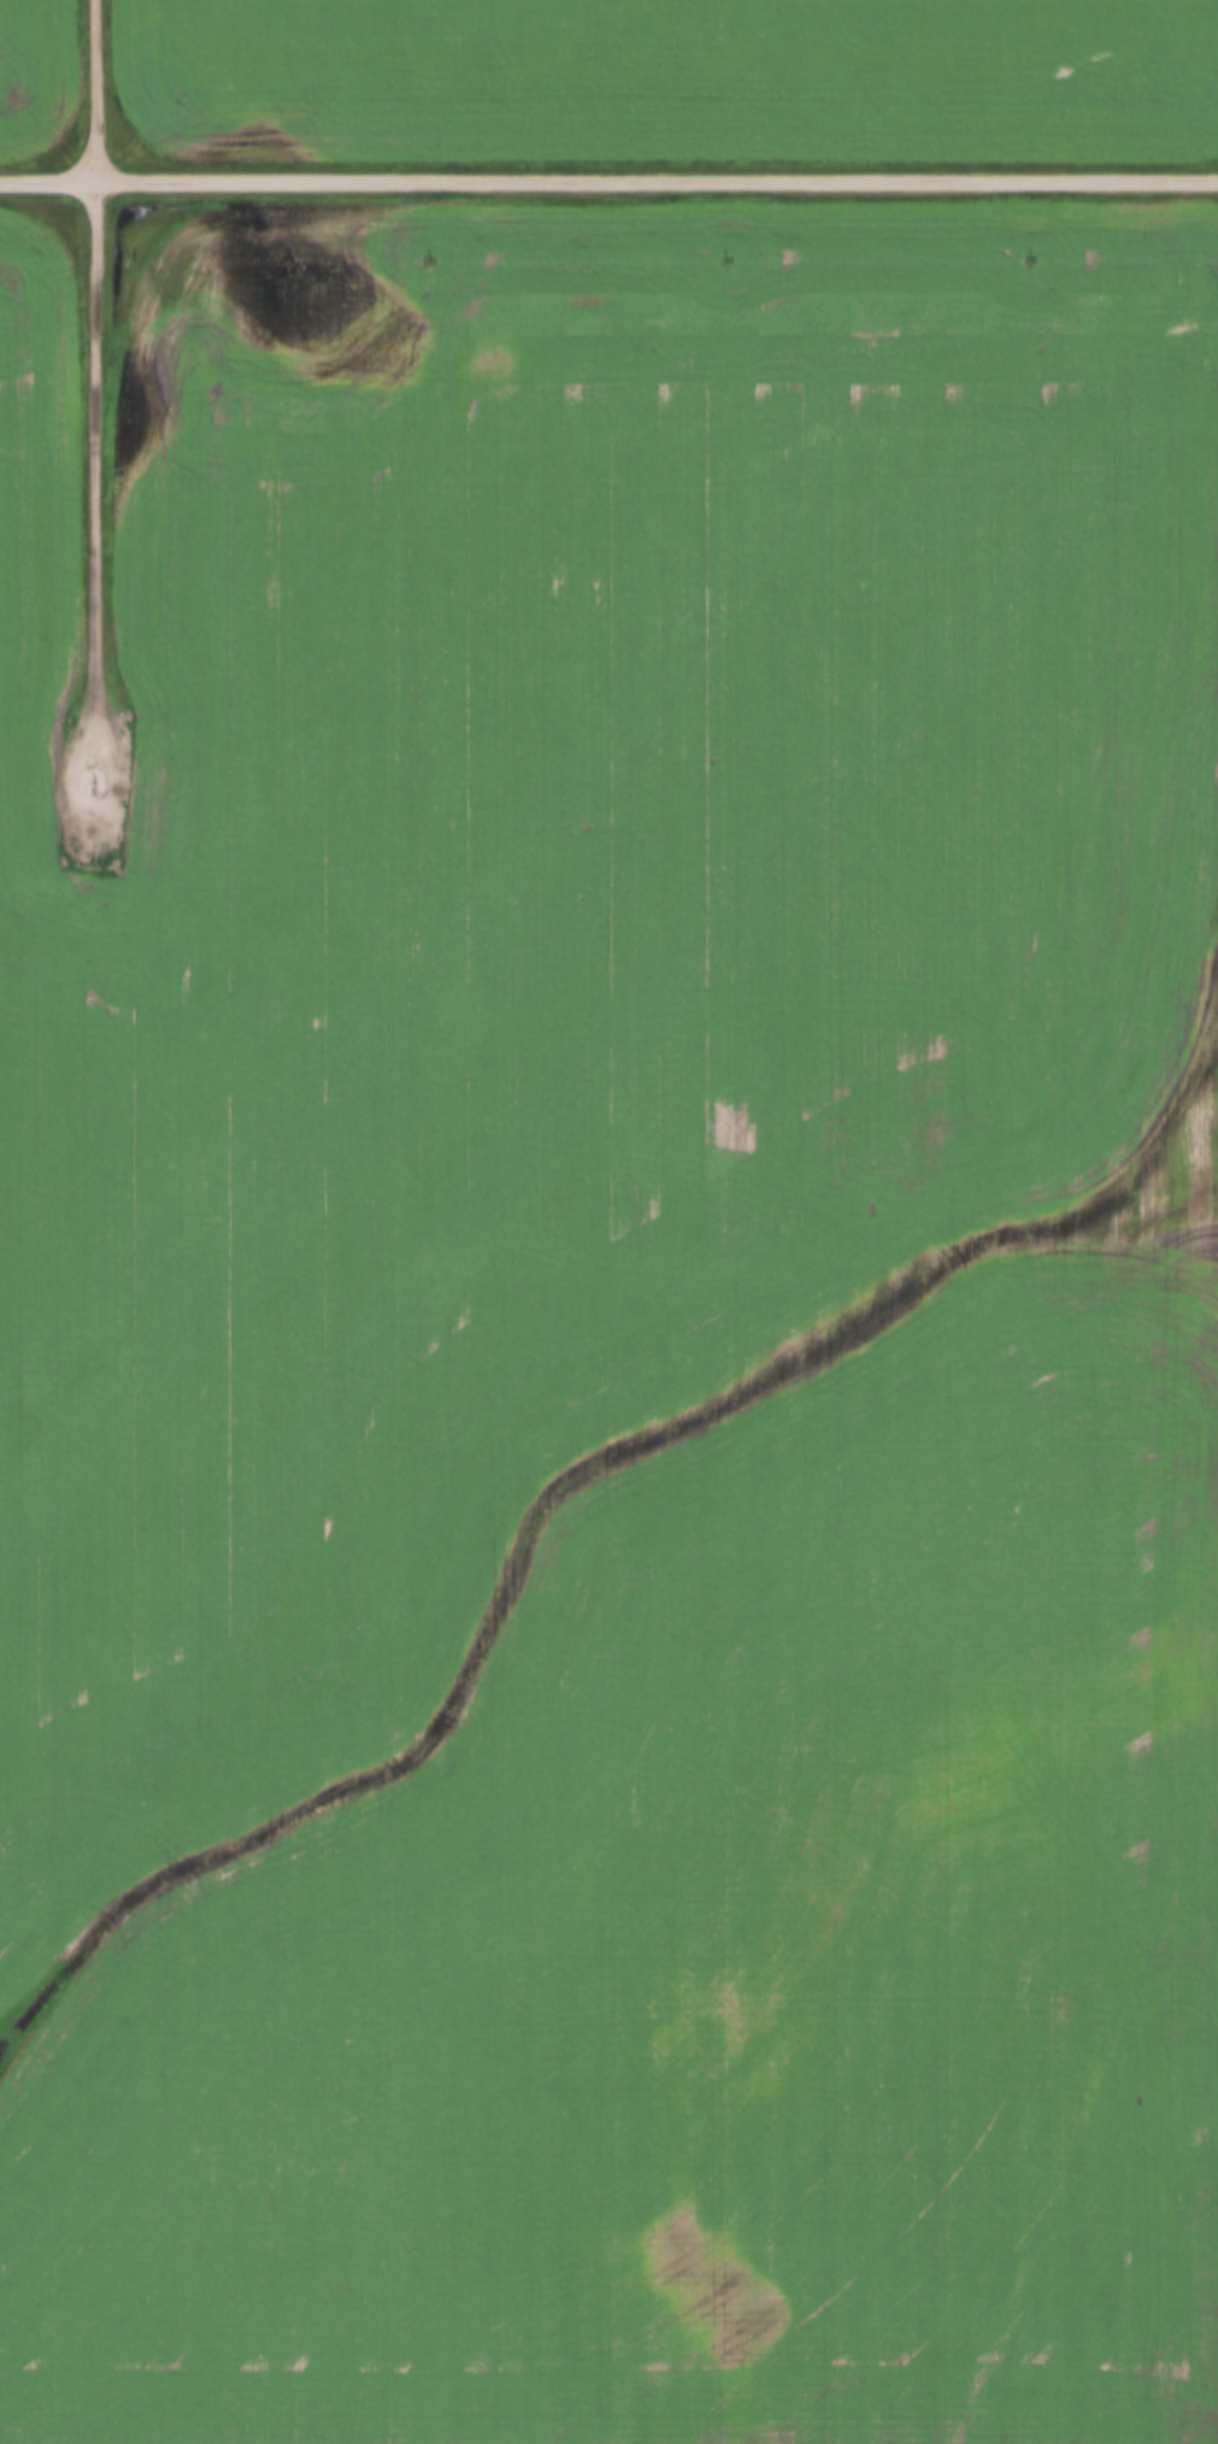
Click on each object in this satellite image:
road: (608, 174)
road: (99, 362)

